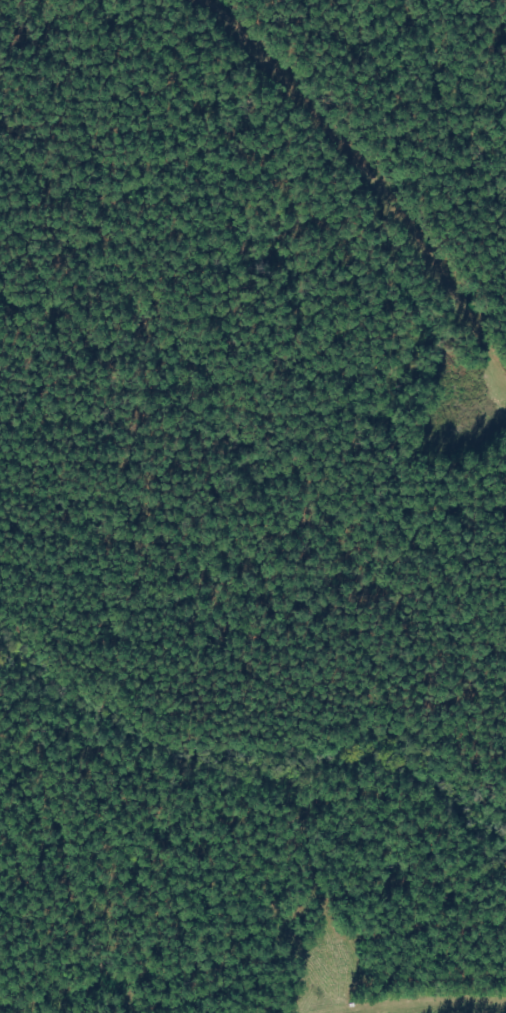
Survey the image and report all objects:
road: (411, 75)

